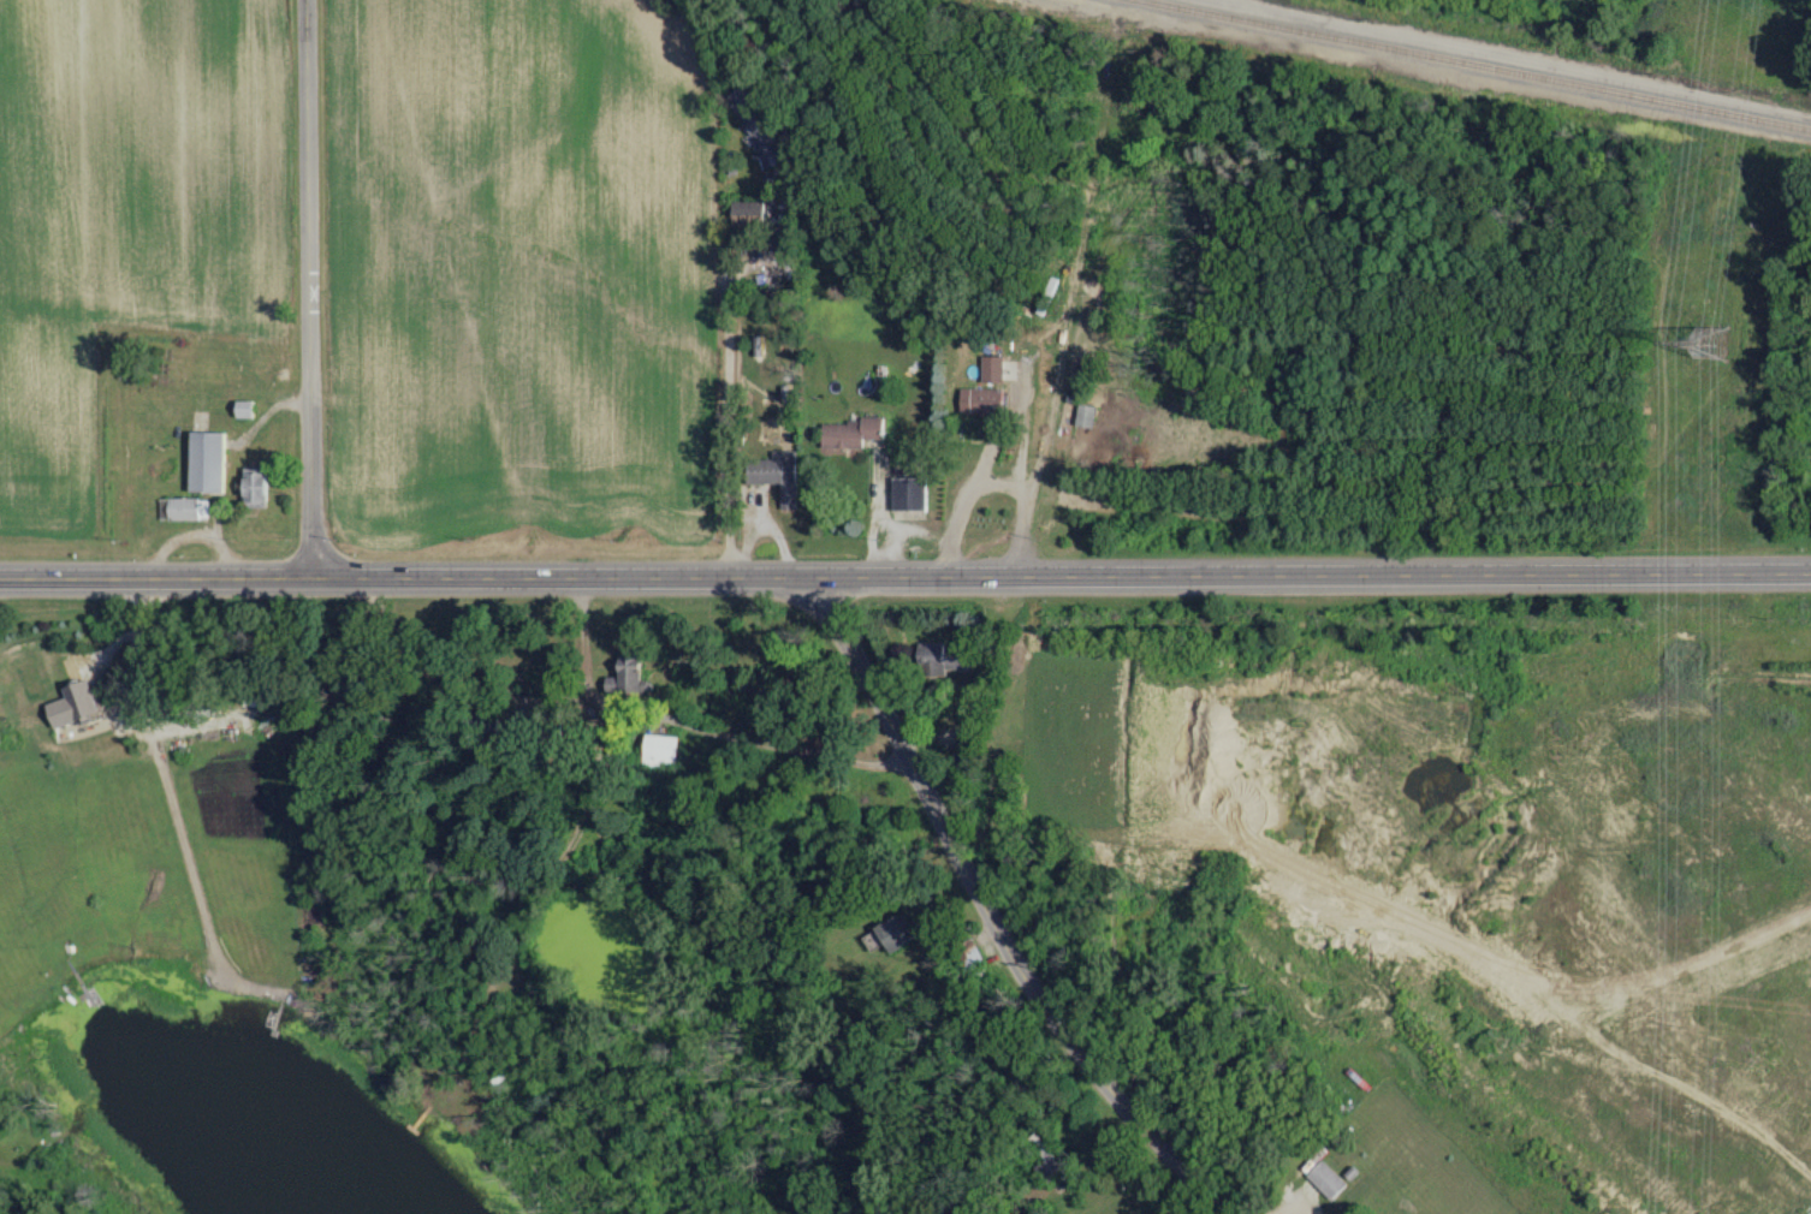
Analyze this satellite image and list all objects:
railway: (1477, 65)
building: (748, 210)
road: (310, 288)
road: (1067, 294)
power tower: (1715, 344)
road: (726, 382)
building: (986, 397)
building: (243, 406)
building: (850, 429)
building: (207, 459)
building: (777, 471)
building: (255, 484)
building: (912, 490)
building: (184, 506)
road: (883, 523)
road: (904, 582)
building: (943, 656)
building: (629, 671)
road: (456, 677)
road: (694, 726)
building: (664, 748)
road: (997, 920)
building: (895, 930)
building: (968, 953)
building: (1326, 1178)
building: (1020, 1212)

